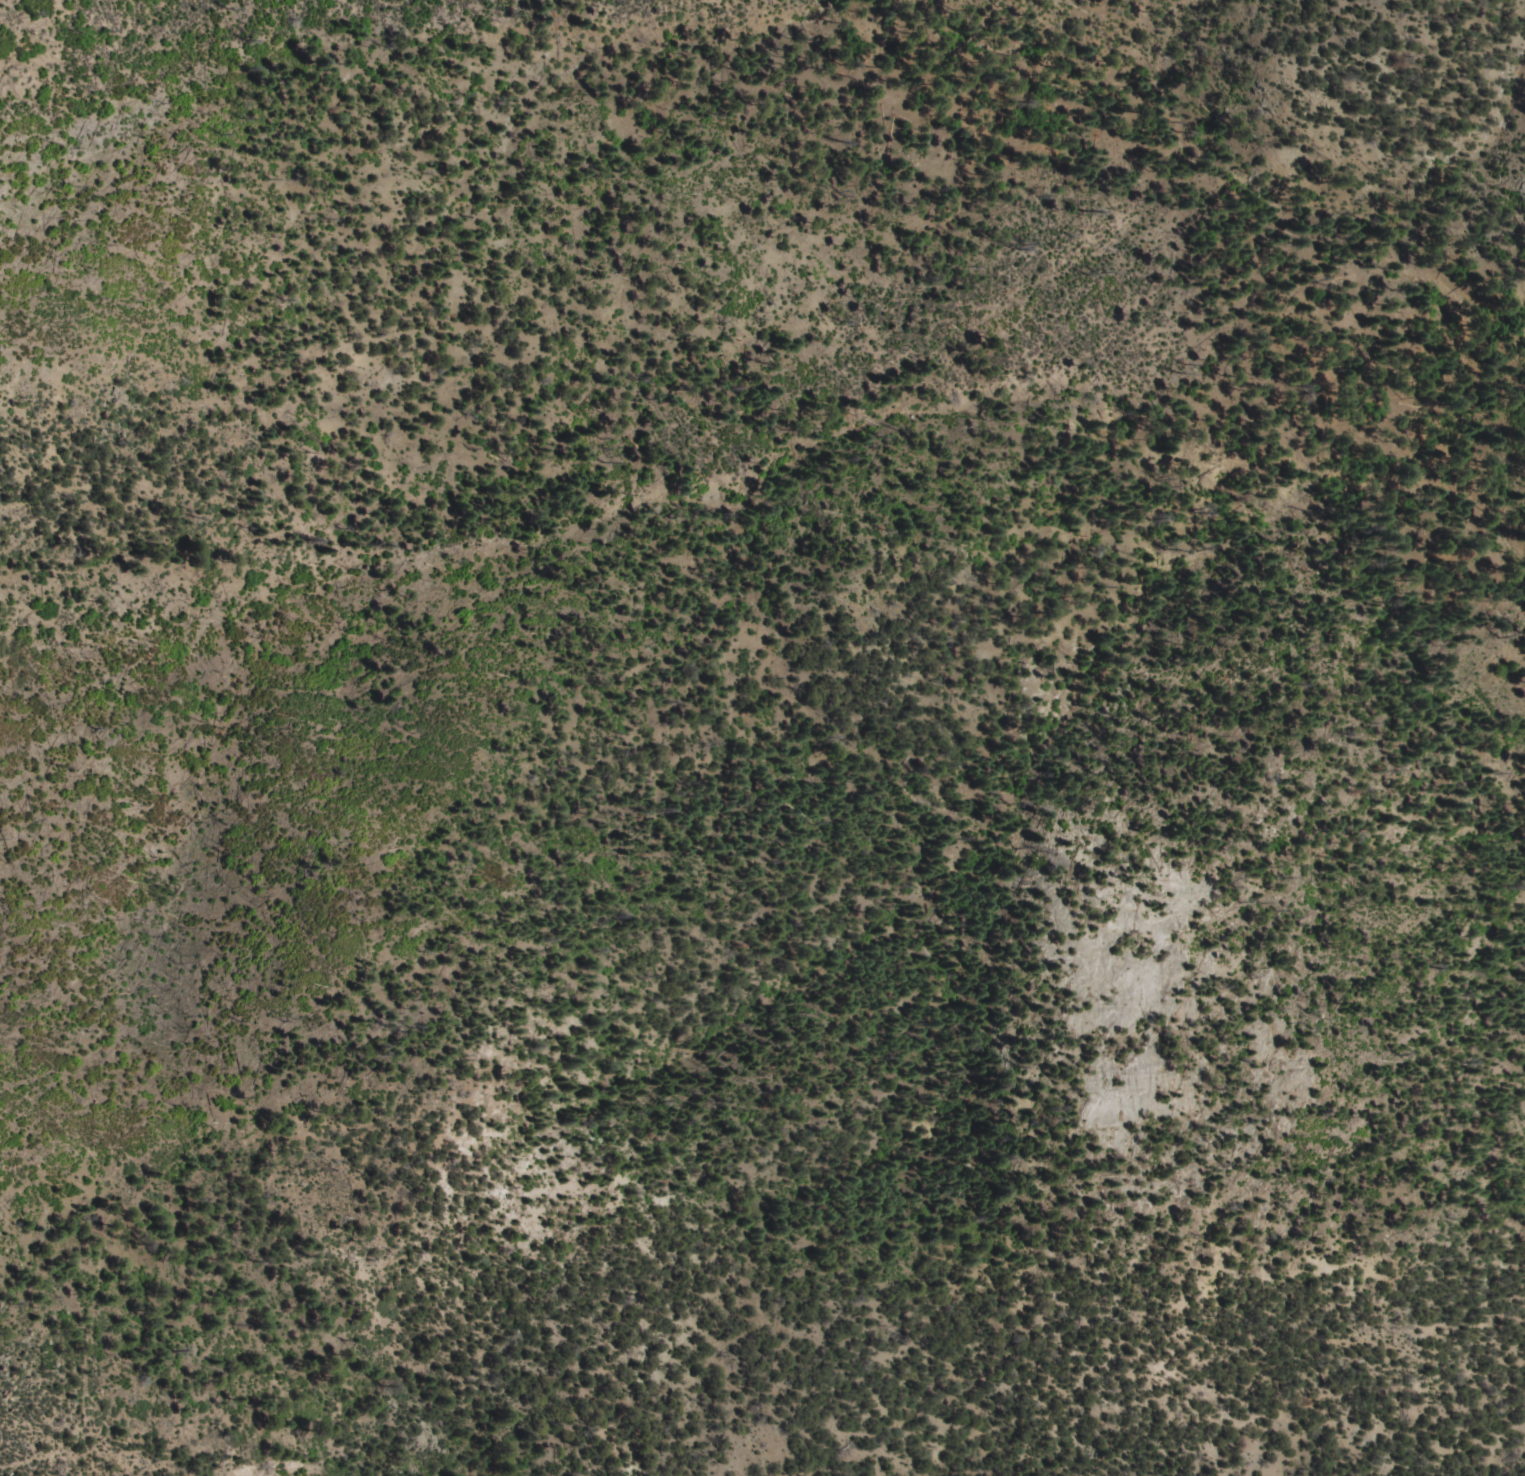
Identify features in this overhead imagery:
road: (1236, 834)
road: (279, 1138)

